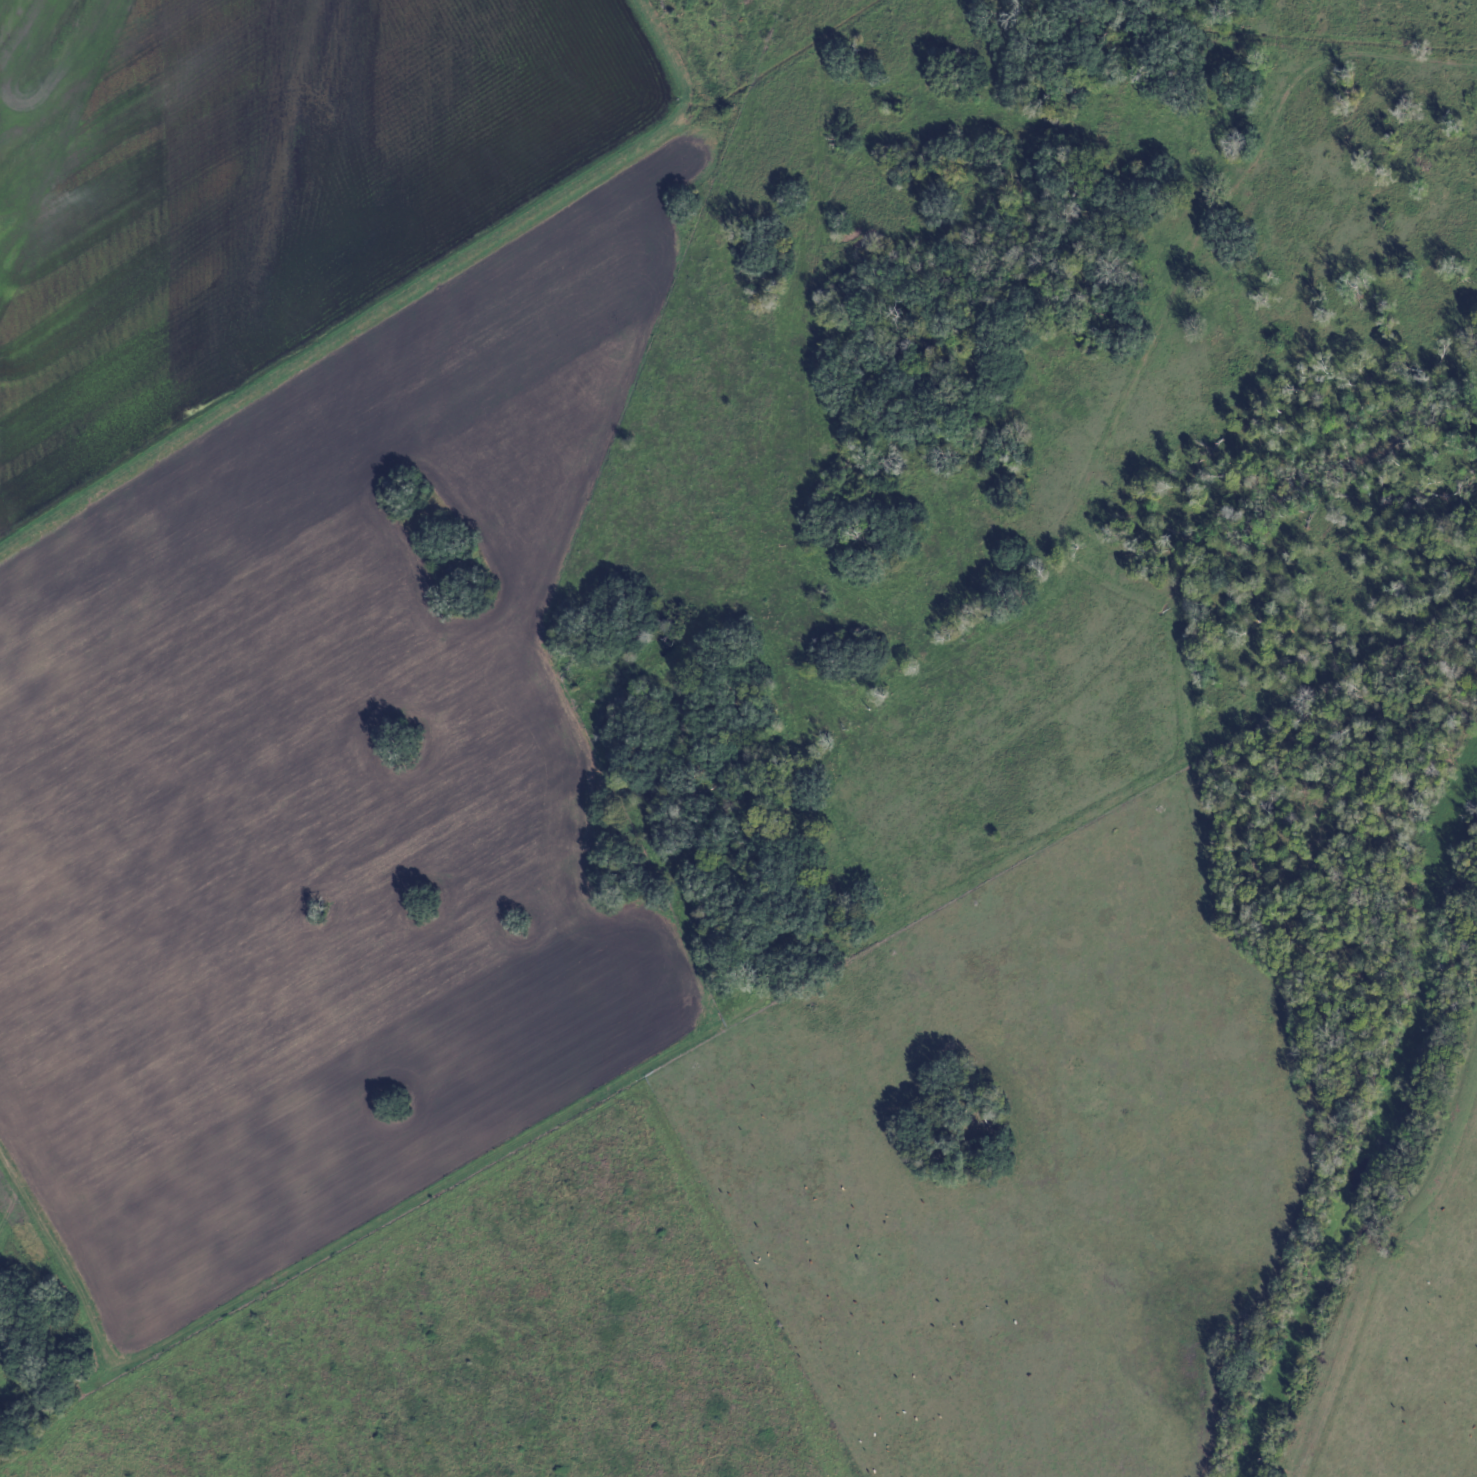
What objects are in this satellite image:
road: (1151, 336)
road: (548, 1121)

